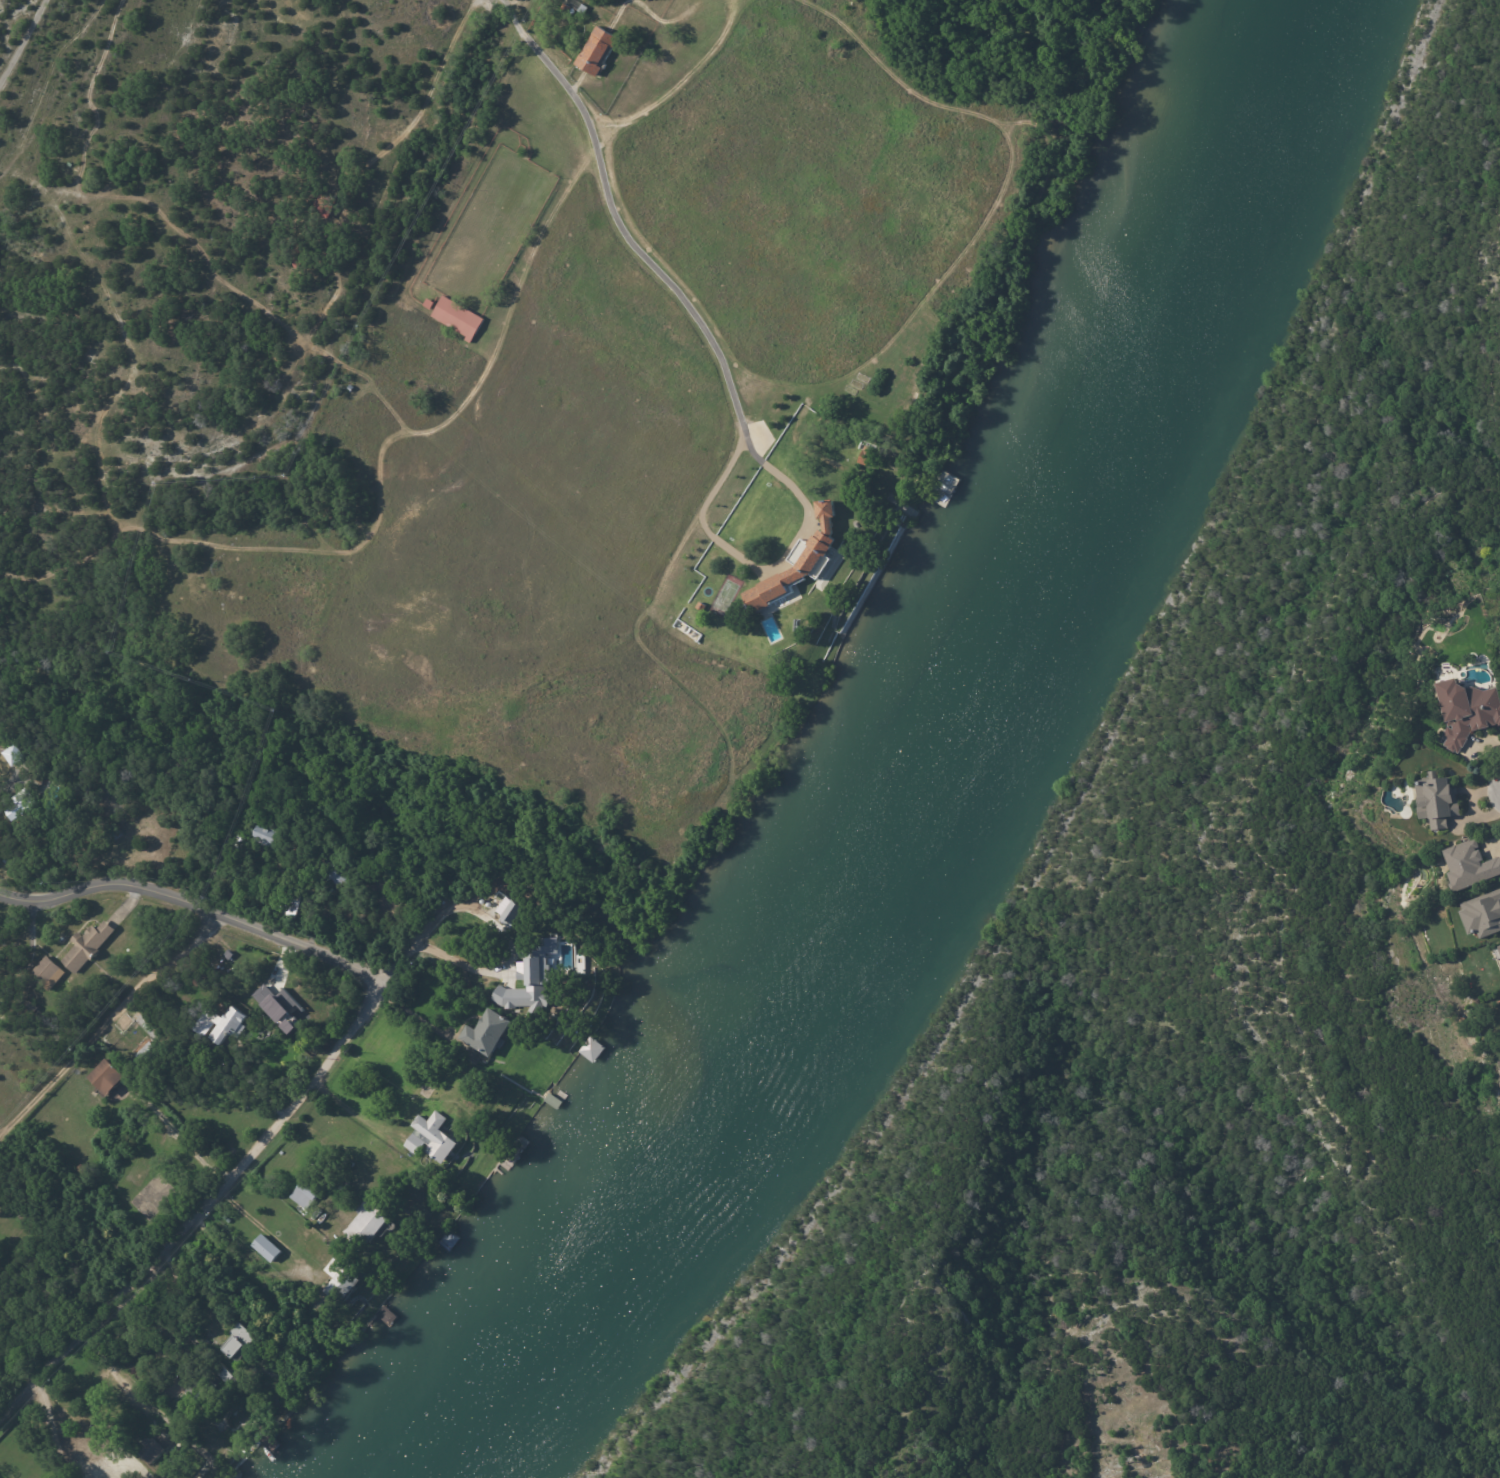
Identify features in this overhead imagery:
building: (566, 8)
road: (22, 41)
building: (596, 51)
building: (324, 204)
road: (613, 213)
building: (293, 233)
building: (301, 252)
building: (428, 303)
building: (458, 318)
building: (351, 388)
building: (866, 456)
building: (812, 562)
building: (735, 587)
building: (701, 607)
building: (1468, 712)
building: (11, 757)
building: (18, 780)
road: (1, 782)
river: (924, 784)
building: (1440, 803)
building: (20, 805)
building: (264, 838)
building: (4, 861)
building: (1471, 867)
building: (341, 872)
building: (275, 881)
road: (194, 905)
building: (480, 906)
building: (292, 907)
building: (1483, 916)
building: (87, 947)
building: (1498, 952)
road: (441, 955)
building: (46, 975)
building: (531, 978)
building: (1499, 1001)
building: (281, 1009)
road: (101, 1019)
building: (229, 1028)
building: (489, 1031)
building: (149, 1054)
building: (107, 1077)
building: (257, 1079)
building: (432, 1137)
building: (81, 1169)
building: (308, 1190)
road: (203, 1208)
building: (368, 1221)
building: (267, 1248)
building: (341, 1281)
road: (145, 1333)
building: (239, 1340)
building: (216, 1364)
road: (112, 1373)
building: (201, 1387)
building: (156, 1447)
road: (57, 1448)
building: (134, 1473)

